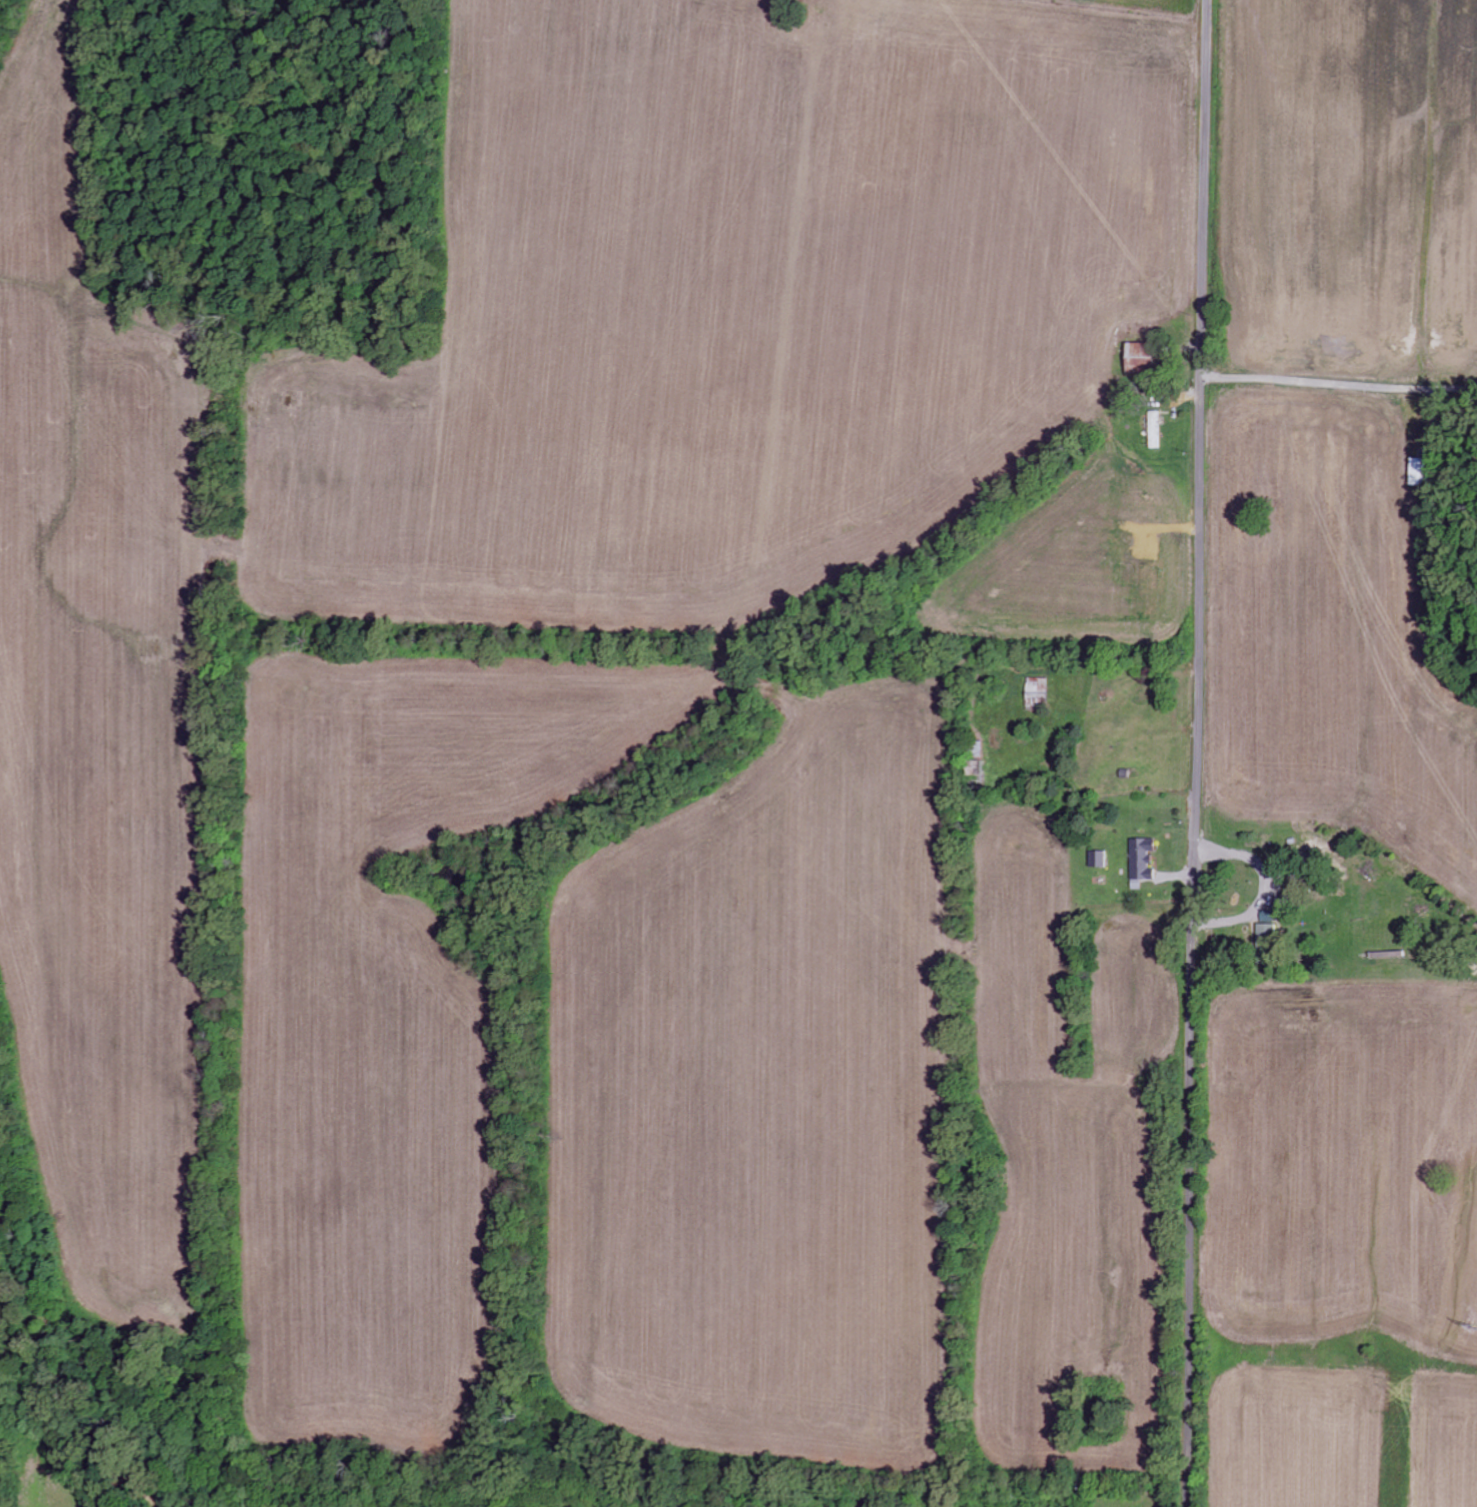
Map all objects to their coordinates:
road: (1338, 238)
building: (1141, 351)
building: (1422, 472)
building: (1037, 693)
road: (1197, 753)
building: (1098, 859)
building: (1141, 862)
building: (1267, 926)

